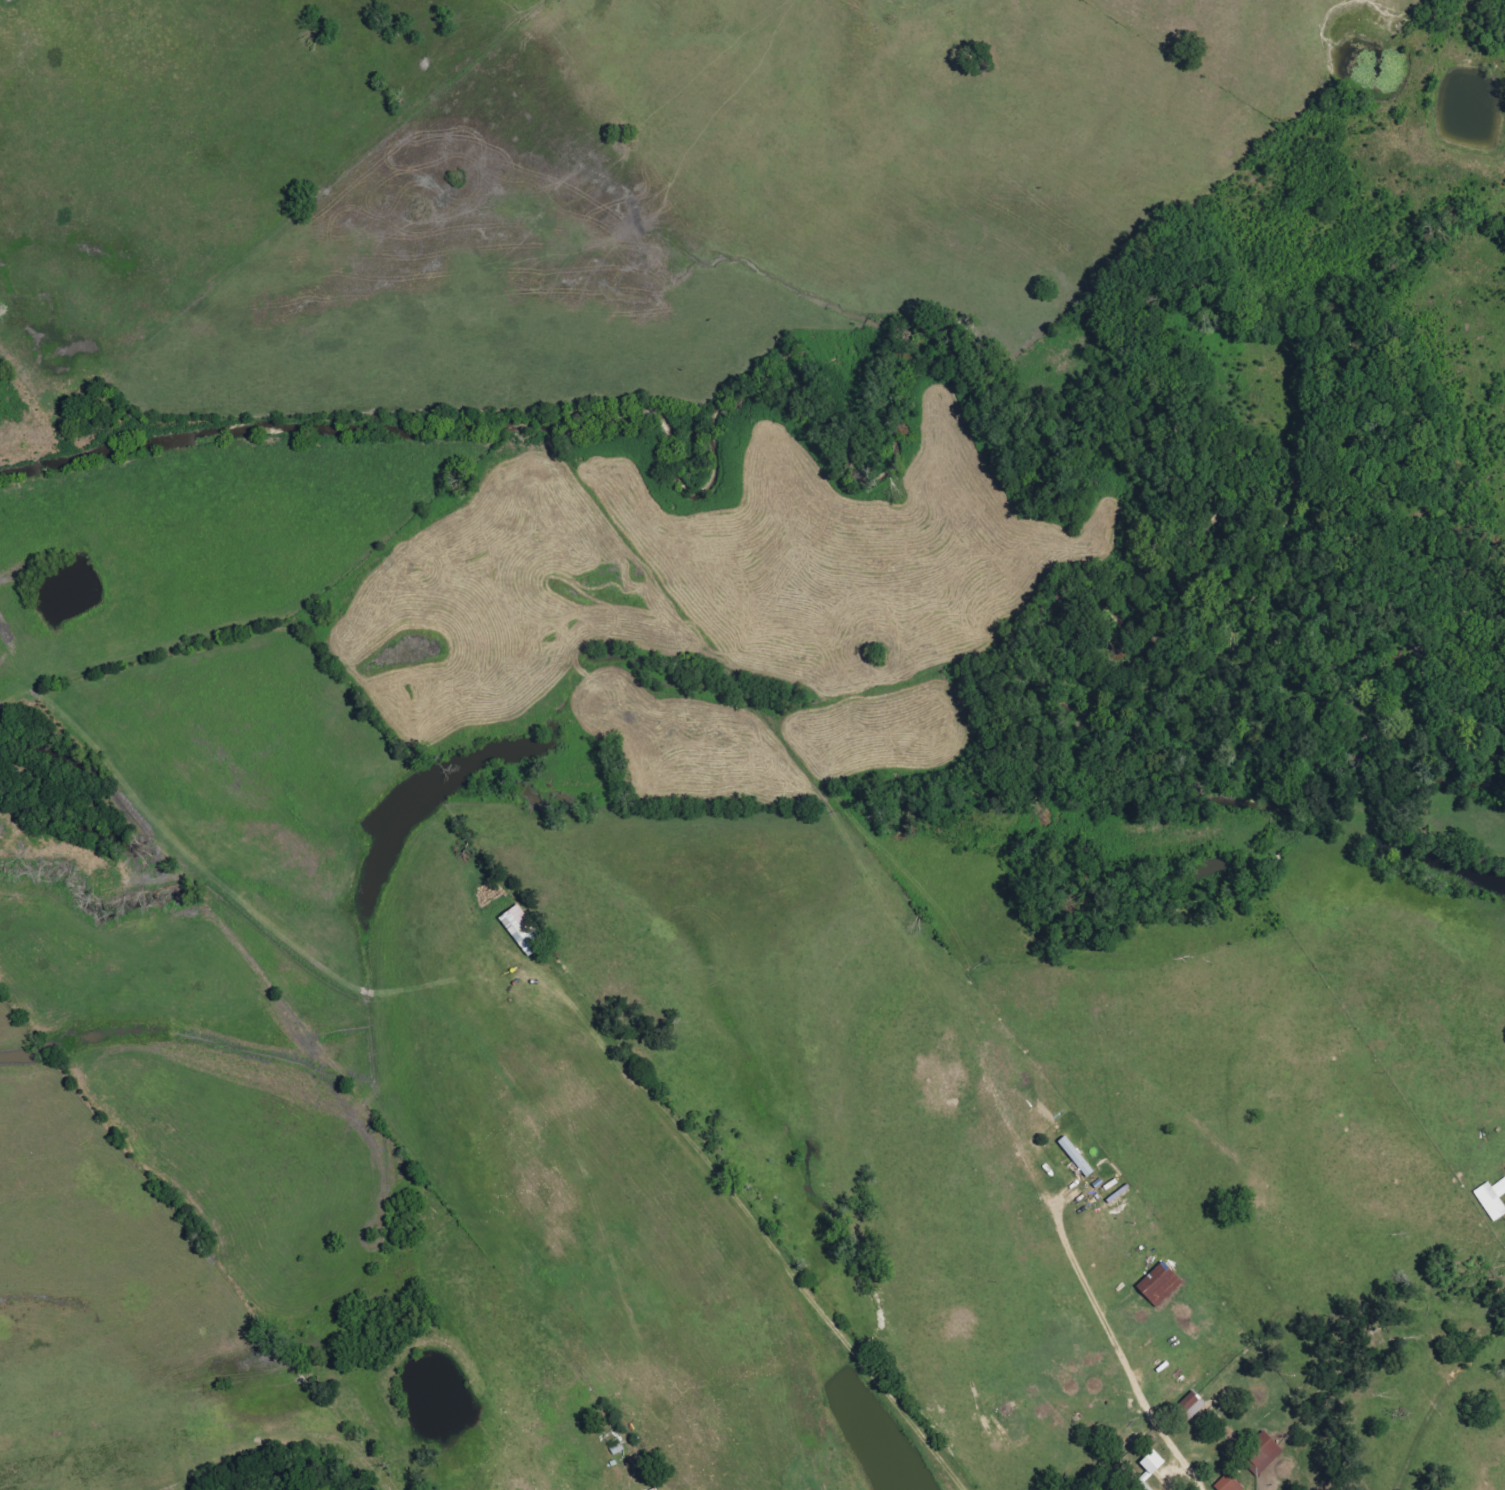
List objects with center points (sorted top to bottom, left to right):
building: (1075, 1157)
building: (1491, 1200)
building: (1159, 1285)
building: (1261, 1453)
building: (1228, 1484)

